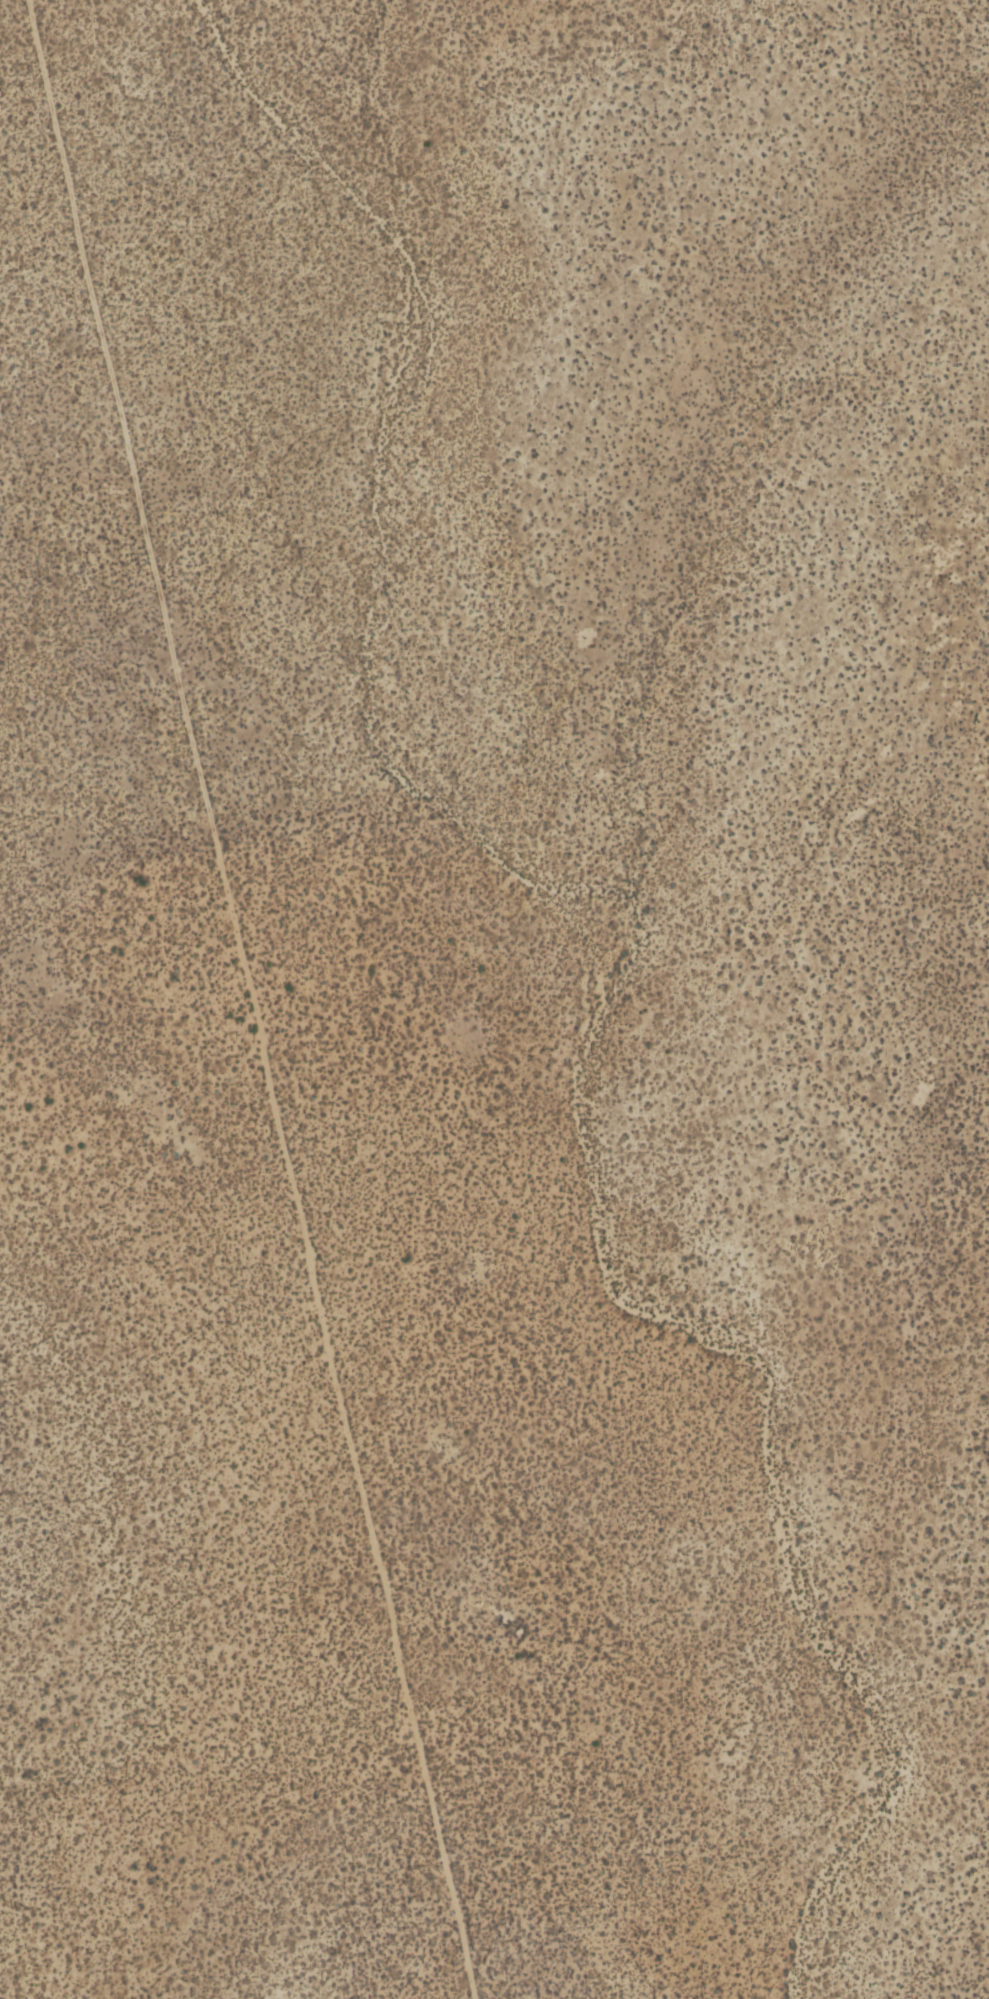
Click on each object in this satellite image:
road: (256, 1000)

